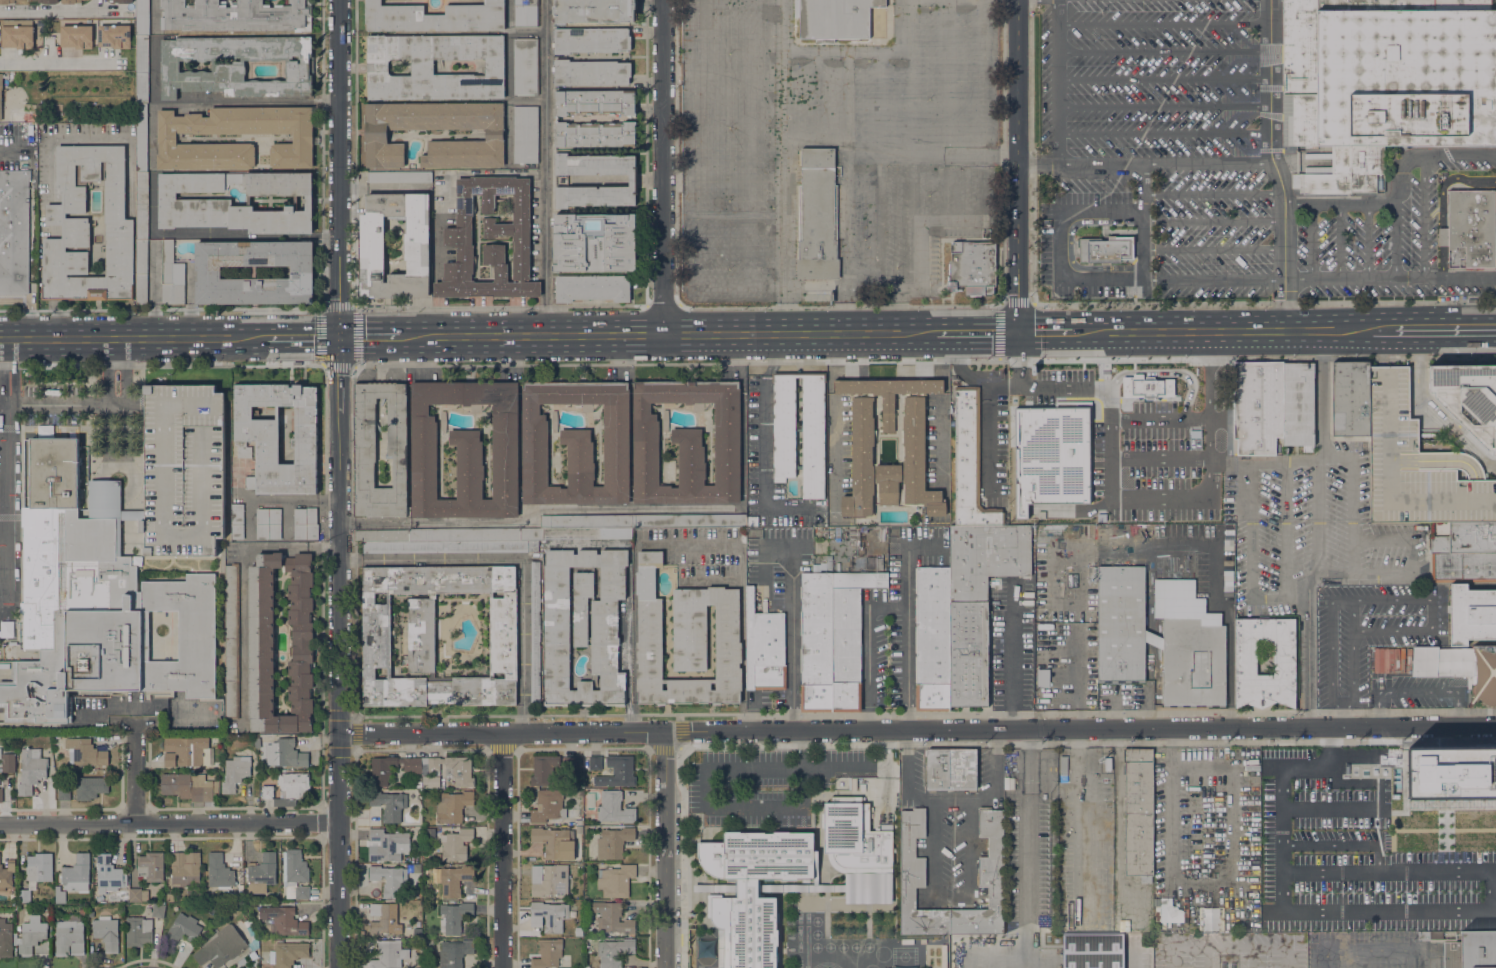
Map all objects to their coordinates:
building: (14, 1)
building: (49, 1)
building: (68, 1)
building: (116, 1)
building: (1328, 5)
road: (60, 9)
building: (594, 10)
building: (525, 13)
building: (236, 15)
building: (142, 17)
building: (434, 17)
building: (834, 18)
building: (72, 22)
road: (1163, 24)
building: (114, 35)
building: (17, 36)
building: (76, 36)
building: (590, 40)
road: (1163, 52)
road: (58, 61)
building: (236, 65)
building: (525, 66)
building: (422, 67)
building: (1289, 68)
building: (141, 69)
building: (590, 72)
road: (936, 75)
road: (685, 76)
road: (1163, 78)
road: (1056, 81)
building: (1387, 82)
building: (0, 93)
road: (152, 100)
road: (246, 102)
building: (595, 102)
road: (1163, 105)
road: (737, 106)
parking lot: (1165, 130)
road: (1163, 133)
building: (376, 134)
building: (525, 134)
building: (595, 134)
building: (141, 136)
building: (305, 139)
building: (1401, 145)
road: (12, 150)
road: (1427, 154)
road: (1037, 162)
road: (1164, 163)
building: (596, 164)
road: (1275, 165)
road: (1018, 166)
road: (665, 167)
road: (340, 168)
road: (546, 168)
building: (399, 176)
road: (1446, 179)
building: (35, 180)
road: (681, 180)
road: (697, 188)
road: (1213, 193)
building: (596, 195)
building: (194, 202)
road: (1339, 202)
building: (141, 205)
road: (783, 208)
building: (817, 215)
road: (1142, 220)
road: (1213, 221)
building: (88, 227)
building: (1471, 228)
building: (14, 231)
road: (1442, 236)
building: (457, 237)
road: (1394, 239)
building: (594, 242)
road: (1060, 243)
building: (416, 246)
parking lot: (1057, 247)
road: (1213, 249)
building: (1105, 250)
road: (1442, 260)
building: (972, 267)
building: (141, 271)
building: (209, 274)
building: (171, 276)
road: (1414, 276)
road: (1459, 276)
road: (1213, 278)
building: (593, 287)
road: (1262, 302)
road: (1001, 317)
road: (1232, 331)
road: (1445, 331)
road: (980, 333)
traffic signals: (1018, 333)
road: (1044, 333)
road: (804, 334)
road: (631, 335)
road: (304, 336)
traffic signals: (336, 336)
road: (368, 336)
road: (498, 336)
road: (136, 337)
road: (742, 348)
road: (613, 358)
road: (1118, 360)
road: (546, 362)
road: (337, 374)
road: (991, 381)
road: (1322, 396)
building: (1350, 398)
building: (1468, 398)
building: (1297, 404)
road: (67, 406)
building: (1258, 408)
road: (1434, 409)
road: (1159, 422)
building: (364, 429)
building: (813, 429)
building: (278, 436)
road: (990, 440)
road: (765, 441)
building: (687, 443)
building: (576, 444)
building: (465, 450)
building: (1055, 450)
building: (914, 453)
road: (1159, 460)
road: (1300, 461)
building: (971, 464)
building: (1417, 464)
road: (116, 466)
building: (183, 470)
parking lot: (183, 470)
road: (8, 481)
building: (249, 482)
road: (1142, 502)
road: (612, 508)
road: (1352, 517)
road: (1317, 519)
building: (688, 520)
building: (237, 521)
building: (584, 521)
building: (752, 521)
building: (268, 523)
building: (305, 523)
road: (1286, 530)
road: (1250, 531)
building: (586, 532)
building: (475, 534)
building: (381, 535)
building: (1466, 538)
road: (1382, 539)
road: (687, 543)
building: (450, 546)
road: (1412, 555)
road: (513, 561)
building: (1463, 567)
road: (1359, 573)
building: (859, 579)
road: (907, 586)
building: (977, 600)
road: (1278, 600)
building: (95, 601)
road: (1335, 608)
road: (1434, 614)
building: (1472, 614)
building: (1120, 623)
building: (583, 624)
building: (535, 631)
road: (1394, 631)
building: (376, 635)
road: (791, 636)
building: (932, 638)
building: (232, 641)
building: (686, 641)
building: (816, 641)
building: (261, 642)
building: (764, 647)
building: (846, 649)
road: (1305, 651)
building: (9, 652)
building: (1190, 653)
building: (1245, 657)
road: (1352, 657)
road: (1011, 658)
building: (1391, 659)
building: (1441, 661)
building: (1092, 662)
road: (907, 668)
road: (868, 670)
building: (1485, 675)
building: (1041, 678)
road: (339, 690)
road: (1414, 693)
building: (1157, 699)
road: (1341, 719)
building: (212, 722)
road: (917, 729)
building: (266, 736)
building: (256, 742)
road: (1357, 748)
building: (186, 751)
building: (85, 752)
building: (0, 753)
building: (285, 753)
building: (8, 762)
building: (570, 763)
building: (595, 763)
building: (412, 764)
building: (31, 769)
building: (450, 769)
building: (543, 769)
building: (962, 769)
building: (382, 770)
building: (937, 770)
building: (618, 772)
building: (234, 773)
building: (1451, 773)
road: (136, 780)
building: (418, 784)
building: (90, 787)
building: (190, 787)
building: (287, 788)
building: (64, 793)
building: (1, 795)
road: (1278, 797)
road: (931, 801)
road: (953, 802)
building: (1451, 804)
building: (389, 805)
building: (452, 806)
building: (548, 806)
road: (1324, 807)
building: (614, 808)
road: (725, 809)
building: (1139, 812)
road: (970, 817)
road: (170, 824)
road: (1169, 829)
building: (428, 832)
building: (551, 840)
road: (1325, 841)
building: (613, 842)
building: (456, 844)
building: (386, 845)
road: (501, 849)
road: (664, 849)
building: (858, 850)
building: (437, 856)
building: (151, 866)
building: (39, 867)
building: (185, 869)
road: (1440, 871)
building: (219, 872)
road: (1331, 872)
building: (262, 873)
building: (76, 874)
building: (295, 874)
building: (6, 875)
building: (111, 877)
road: (1029, 877)
building: (389, 879)
building: (452, 879)
building: (616, 880)
building: (916, 880)
building: (551, 882)
building: (985, 882)
building: (240, 889)
building: (753, 889)
building: (24, 895)
building: (59, 895)
building: (137, 895)
building: (417, 896)
building: (170, 897)
building: (102, 898)
building: (1171, 909)
building: (81, 911)
building: (158, 911)
road: (1387, 912)
building: (91, 914)
building: (1211, 914)
building: (548, 915)
building: (454, 916)
building: (612, 918)
building: (384, 919)
building: (284, 920)
building: (18, 928)
building: (182, 929)
building: (138, 931)
building: (106, 932)
building: (417, 932)
building: (31, 935)
building: (1423, 935)
building: (67, 936)
building: (7, 938)
building: (226, 944)
building: (1093, 950)
building: (1471, 950)
building: (614, 952)
building: (287, 953)
building: (454, 953)
building: (547, 953)
building: (388, 954)
building: (417, 957)
building: (238, 967)
building: (416, 967)

